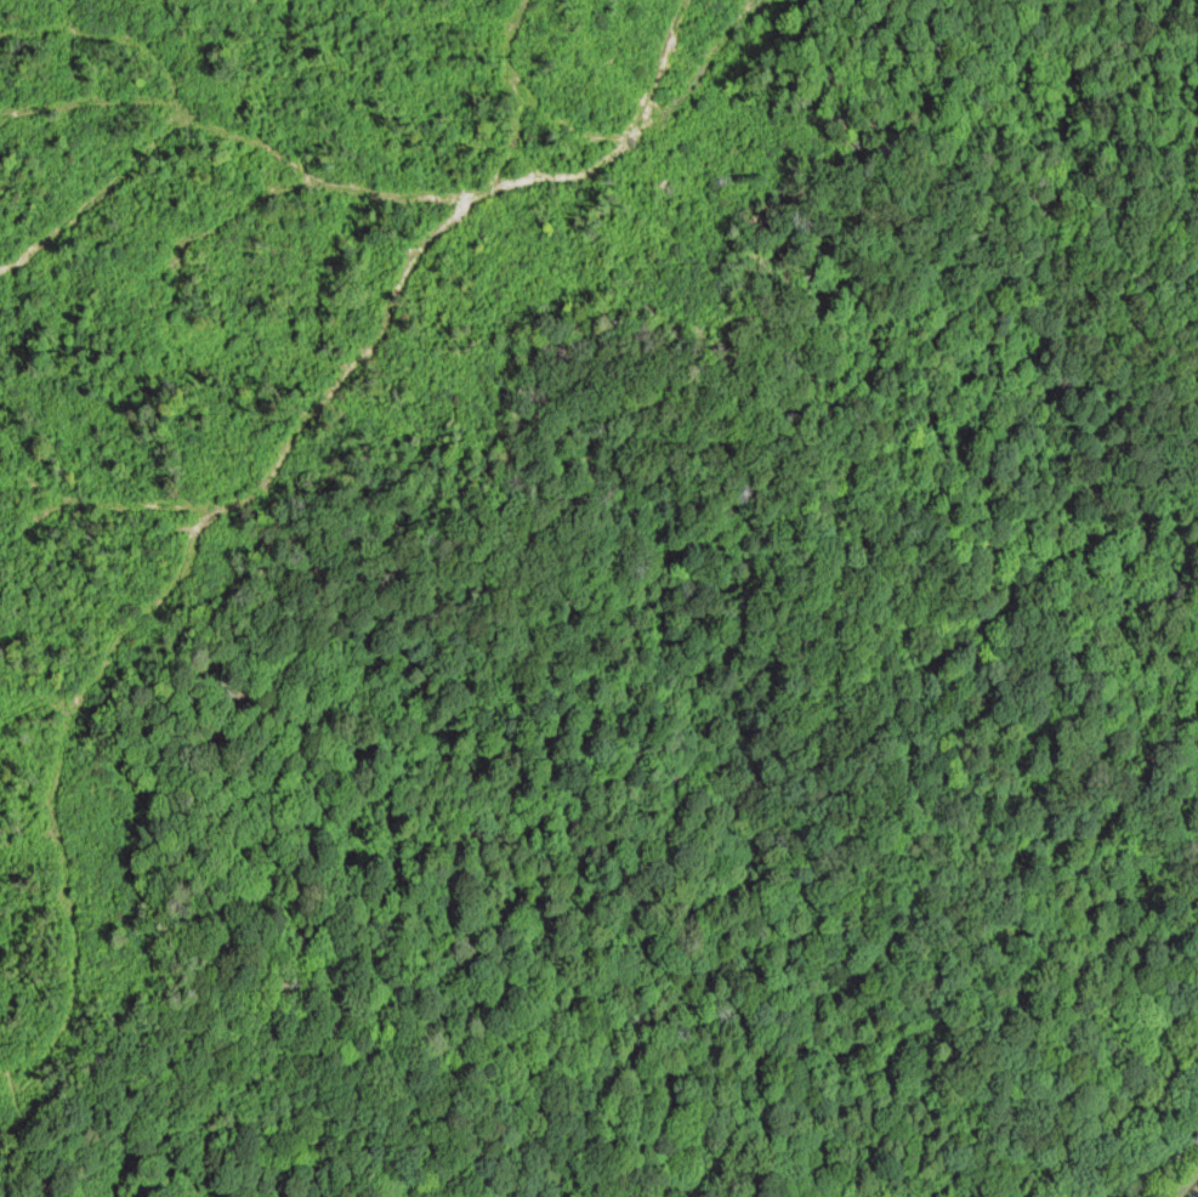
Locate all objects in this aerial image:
road: (1145, 1158)

